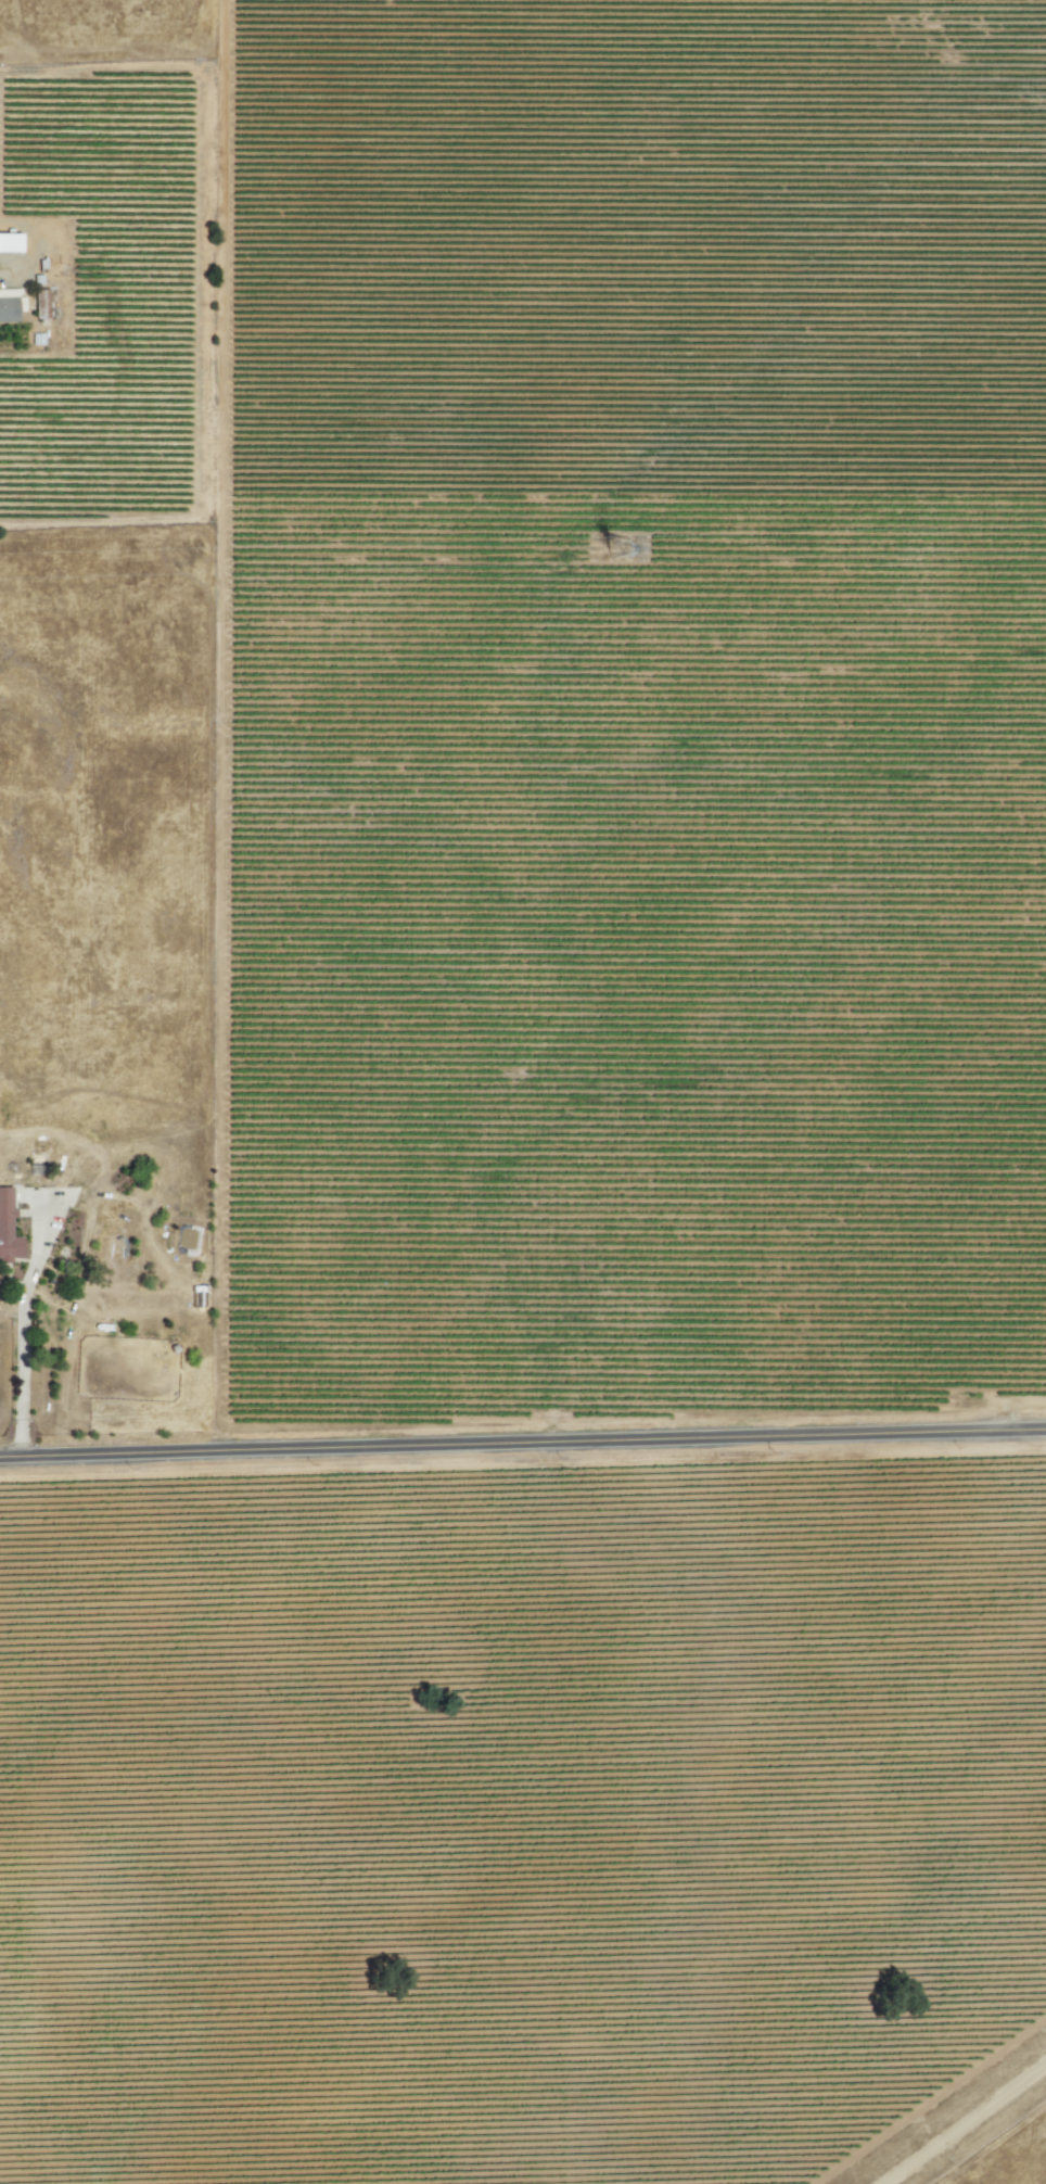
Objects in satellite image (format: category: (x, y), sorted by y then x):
building: (10, 243)
building: (11, 304)
power tower: (634, 551)
building: (8, 1228)
road: (24, 1335)
road: (522, 1443)
road: (962, 2122)

